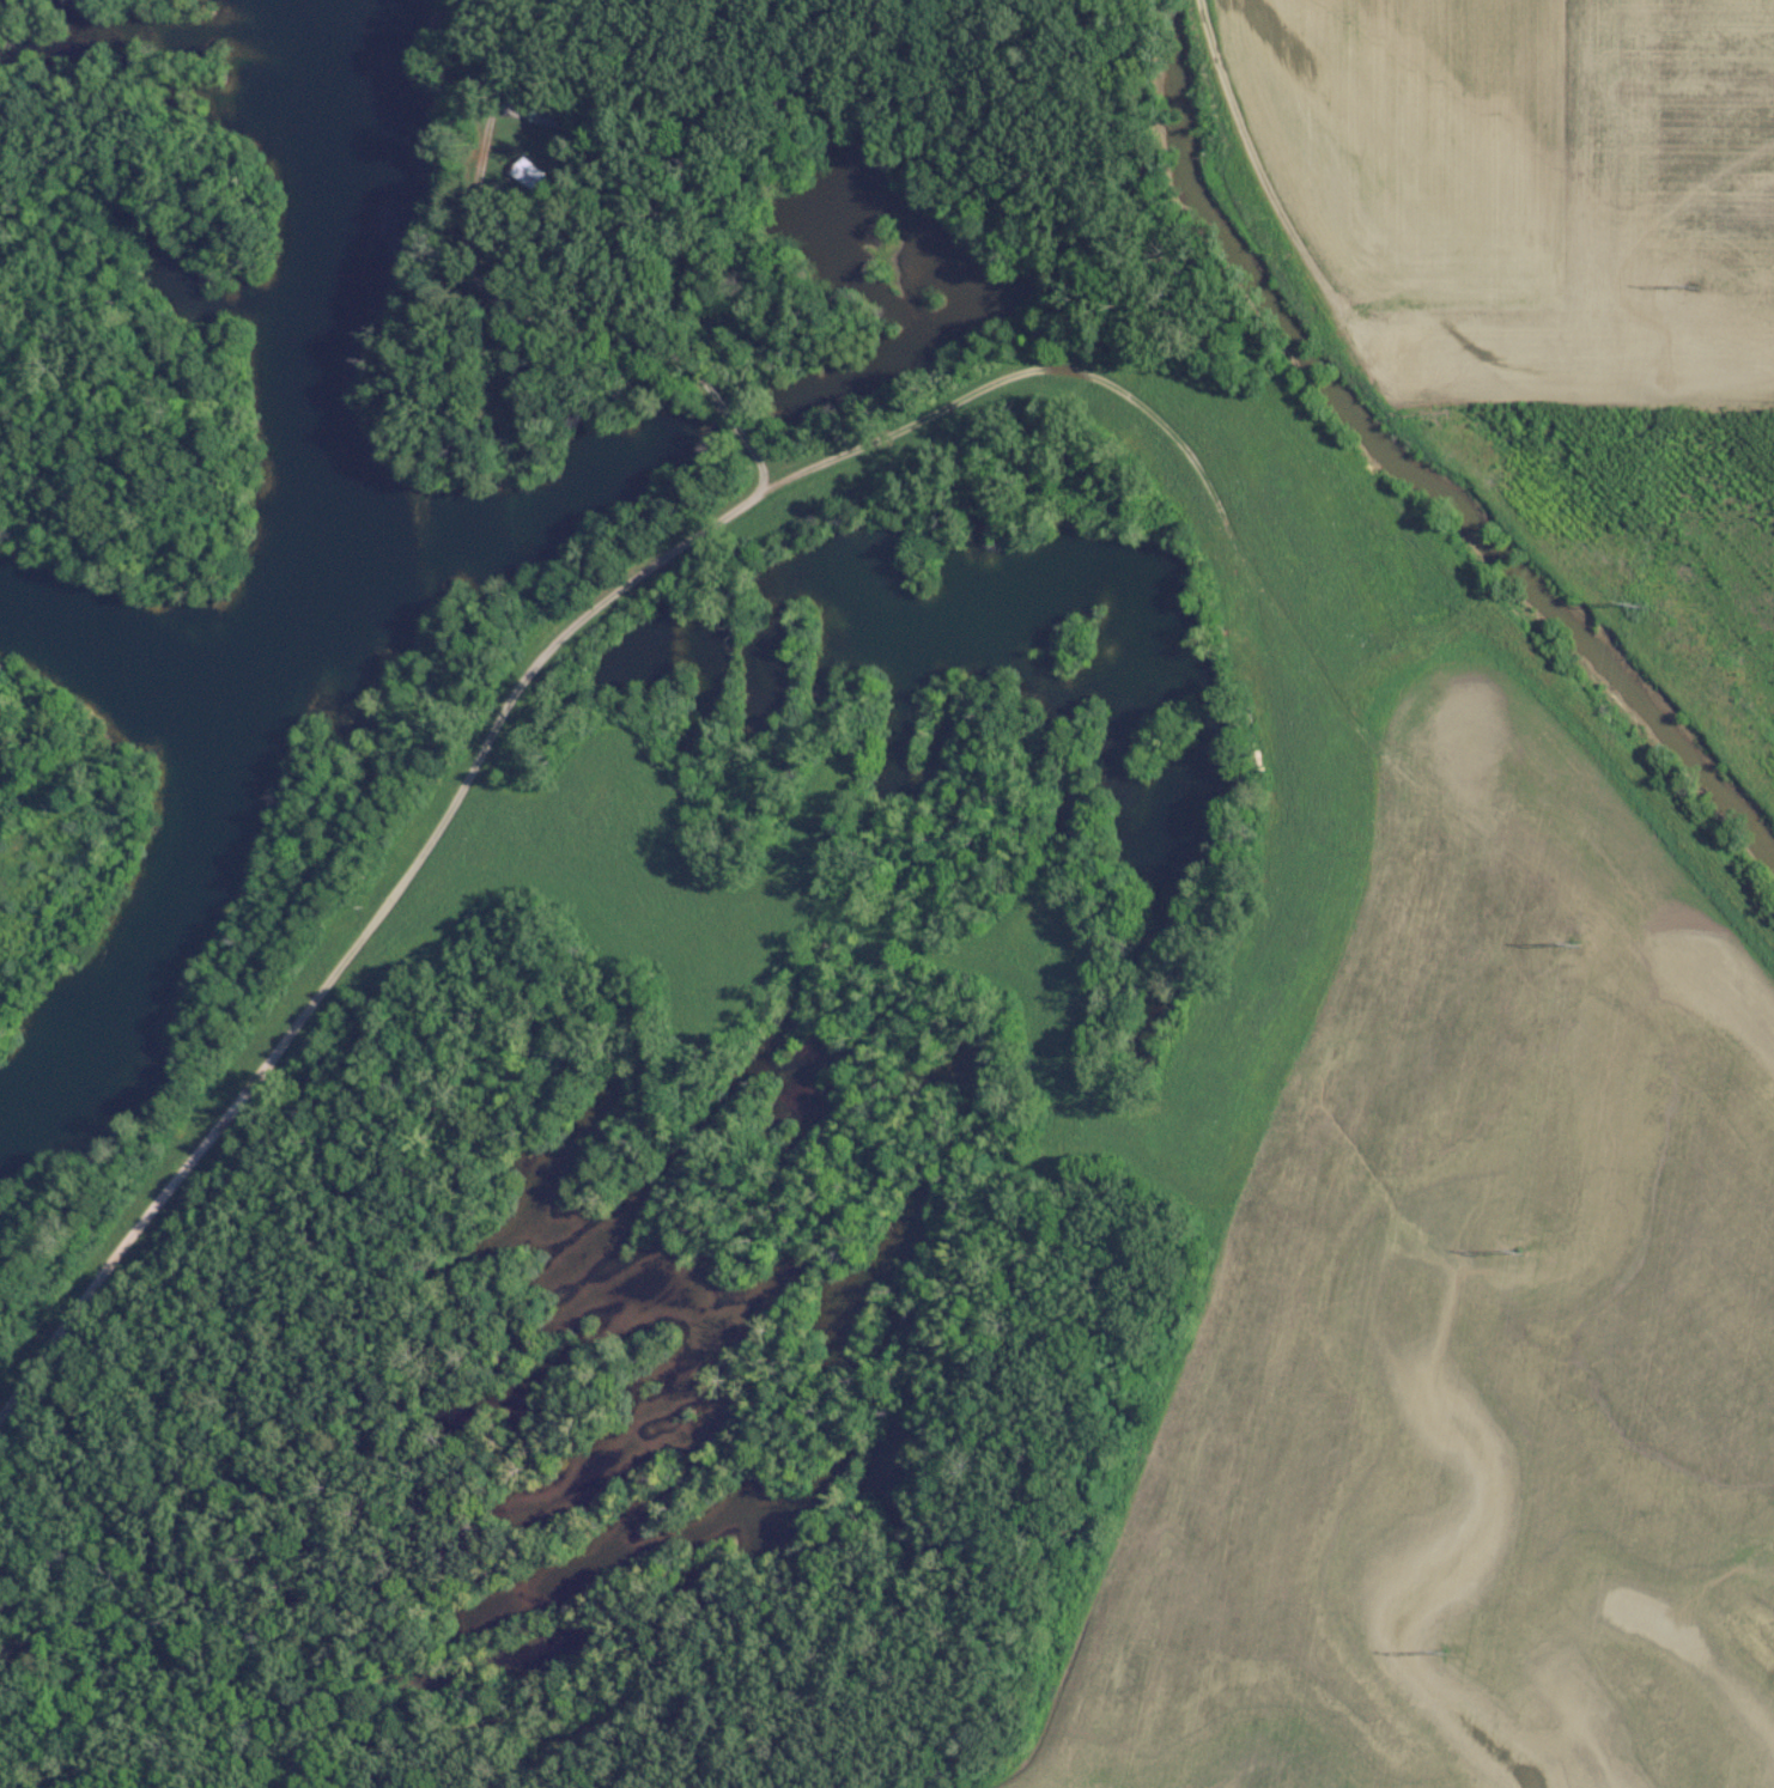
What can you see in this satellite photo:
building: (565, 117)
road: (1251, 157)
building: (552, 182)
road: (514, 309)
road: (496, 749)

